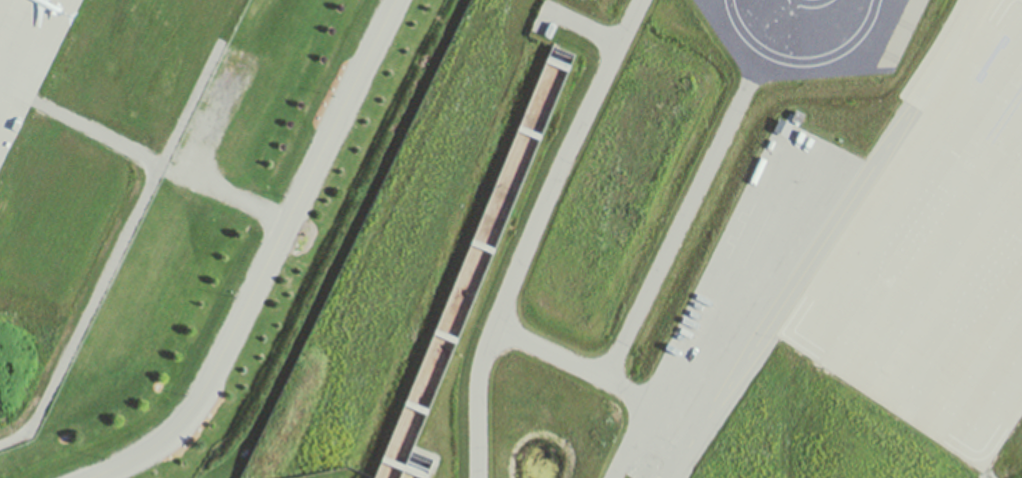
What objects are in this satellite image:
road: (588, 28)
airport apron: (27, 54)
building: (798, 119)
road: (97, 130)
building: (783, 130)
road: (185, 167)
airport: (183, 213)
road: (681, 223)
raceway: (824, 240)
road: (118, 250)
road: (266, 262)
building: (471, 274)
park: (471, 274)
road: (512, 281)
road: (479, 400)
road: (678, 414)
airport: (336, 473)

